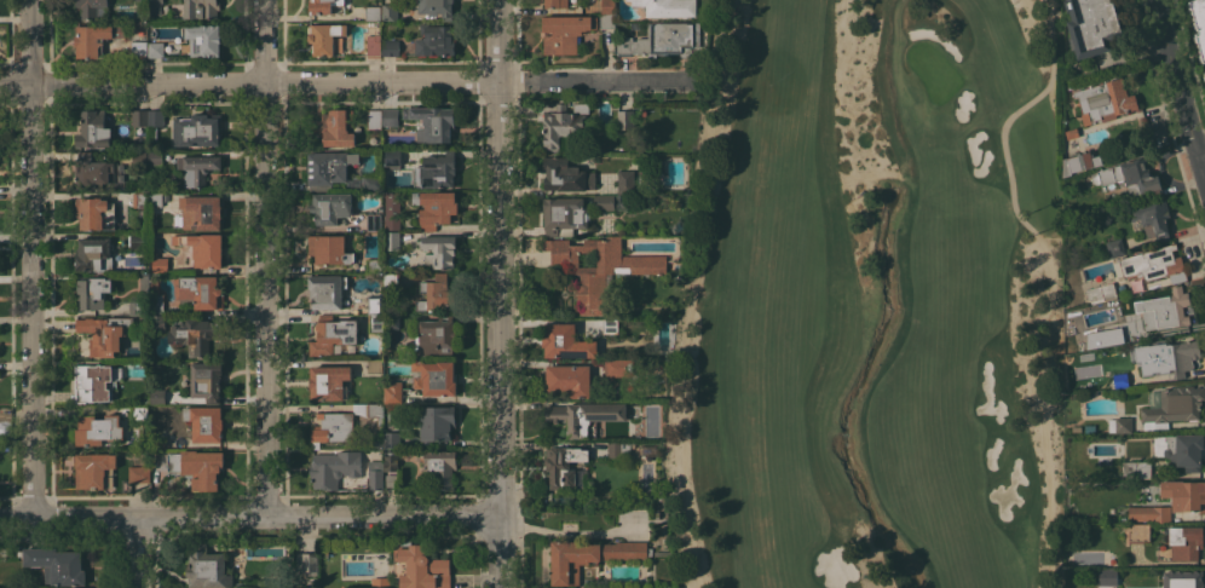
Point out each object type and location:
building: (555, 4)
building: (322, 5)
building: (154, 6)
building: (607, 6)
building: (92, 7)
building: (436, 7)
building: (667, 7)
building: (201, 8)
building: (390, 11)
building: (373, 13)
building: (607, 21)
building: (1199, 23)
building: (635, 25)
building: (1095, 25)
building: (564, 33)
building: (327, 38)
building: (96, 39)
building: (202, 39)
building: (434, 40)
building: (662, 40)
road: (269, 41)
road: (495, 41)
road: (33, 44)
building: (373, 45)
building: (390, 47)
building: (139, 48)
building: (155, 48)
building: (1204, 75)
road: (342, 82)
road: (1178, 93)
building: (1105, 100)
building: (390, 116)
building: (139, 117)
building: (155, 117)
building: (374, 117)
building: (625, 120)
building: (431, 122)
building: (563, 125)
building: (333, 127)
building: (93, 129)
building: (197, 129)
building: (1071, 133)
road: (1200, 155)
building: (139, 158)
building: (156, 158)
building: (391, 158)
building: (1079, 162)
building: (197, 168)
building: (436, 171)
building: (92, 172)
building: (336, 172)
building: (565, 175)
building: (1130, 178)
building: (625, 181)
road: (1010, 183)
building: (155, 198)
building: (139, 200)
building: (611, 202)
building: (330, 207)
building: (434, 208)
building: (392, 211)
building: (94, 213)
building: (198, 213)
building: (564, 214)
building: (1154, 219)
building: (373, 223)
building: (137, 241)
building: (392, 241)
building: (1114, 247)
building: (201, 249)
building: (329, 249)
building: (439, 250)
building: (93, 254)
building: (158, 264)
building: (1153, 264)
building: (374, 265)
building: (596, 266)
building: (390, 283)
building: (198, 290)
building: (327, 290)
building: (93, 292)
building: (1101, 293)
building: (437, 294)
building: (140, 298)
building: (155, 299)
road: (270, 300)
road: (33, 301)
park: (871, 301)
building: (375, 305)
building: (1163, 310)
building: (391, 321)
building: (157, 323)
building: (375, 323)
building: (609, 327)
building: (104, 333)
building: (194, 333)
building: (333, 334)
building: (434, 334)
road: (495, 334)
building: (1115, 334)
building: (565, 341)
building: (1101, 341)
building: (1171, 358)
building: (374, 367)
building: (617, 367)
building: (433, 376)
building: (570, 380)
building: (1120, 380)
building: (206, 381)
building: (91, 382)
building: (329, 382)
building: (392, 392)
building: (157, 396)
building: (1171, 405)
building: (370, 410)
building: (139, 411)
building: (583, 416)
building: (204, 422)
building: (436, 423)
building: (1119, 425)
building: (97, 427)
building: (331, 427)
building: (1076, 428)
building: (1089, 428)
road: (685, 430)
building: (156, 434)
building: (391, 439)
building: (618, 449)
building: (1180, 450)
building: (379, 451)
road: (1045, 452)
building: (391, 462)
building: (439, 466)
building: (197, 467)
building: (565, 467)
building: (334, 468)
building: (1136, 468)
building: (92, 469)
building: (375, 475)
building: (136, 477)
building: (391, 479)
building: (1171, 501)
road: (248, 517)
road: (564, 532)
building: (1138, 532)
building: (1184, 542)
road: (134, 553)
building: (589, 557)
building: (306, 563)
building: (57, 565)
building: (420, 567)
building: (207, 569)
building: (1108, 577)
building: (1182, 580)

